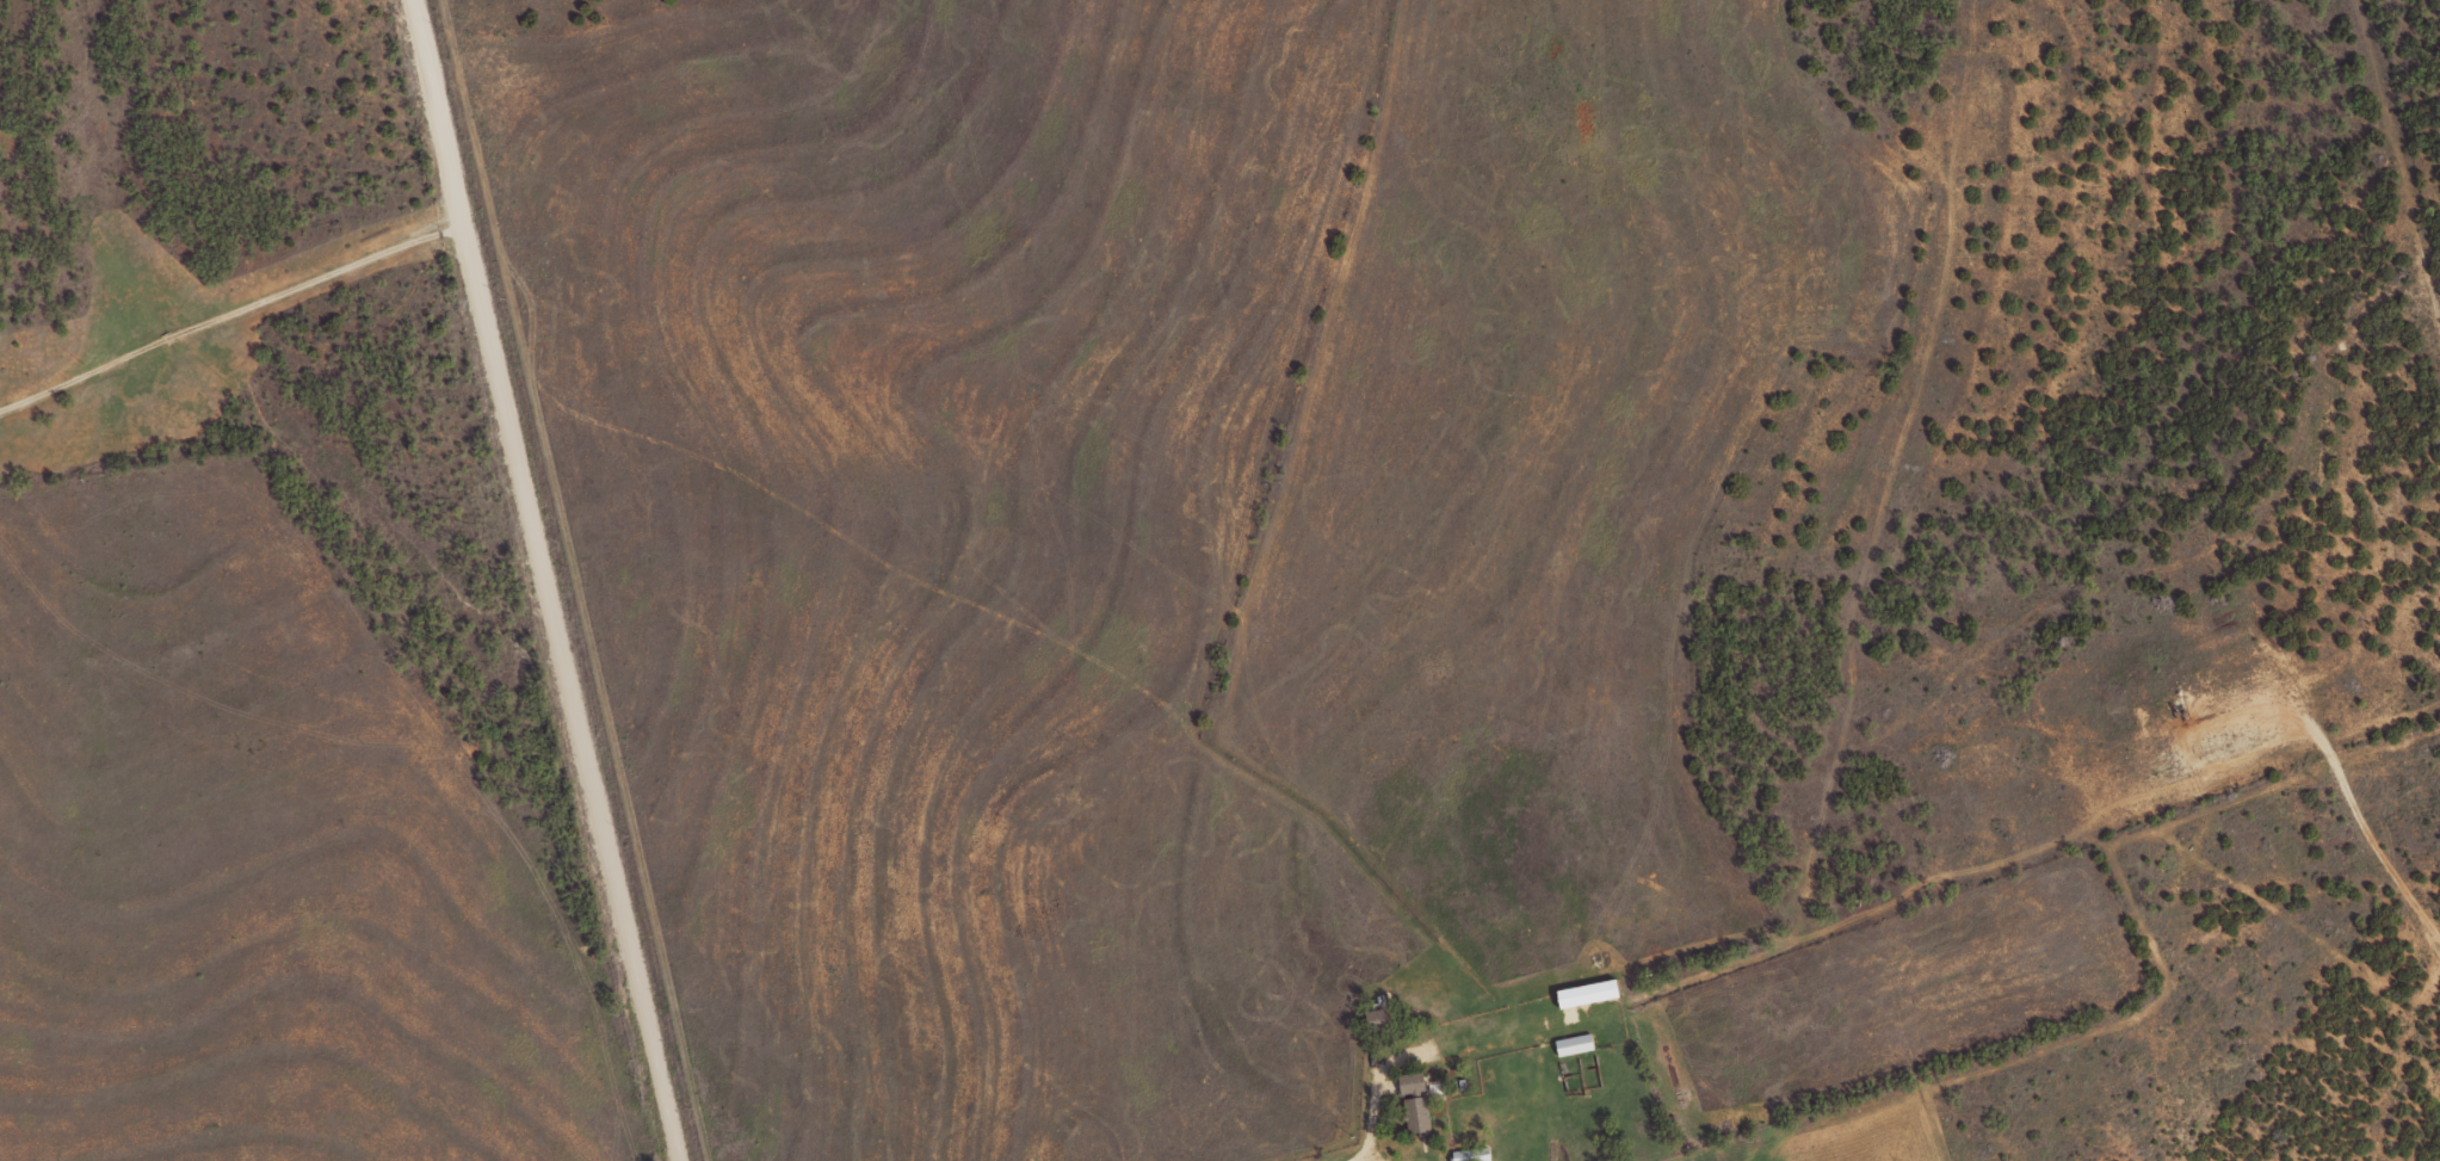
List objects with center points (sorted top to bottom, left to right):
road: (228, 319)
road: (539, 580)
building: (1588, 993)
building: (1574, 1044)
building: (1413, 1083)
road: (1375, 1089)
building: (1417, 1116)
building: (1471, 1154)

